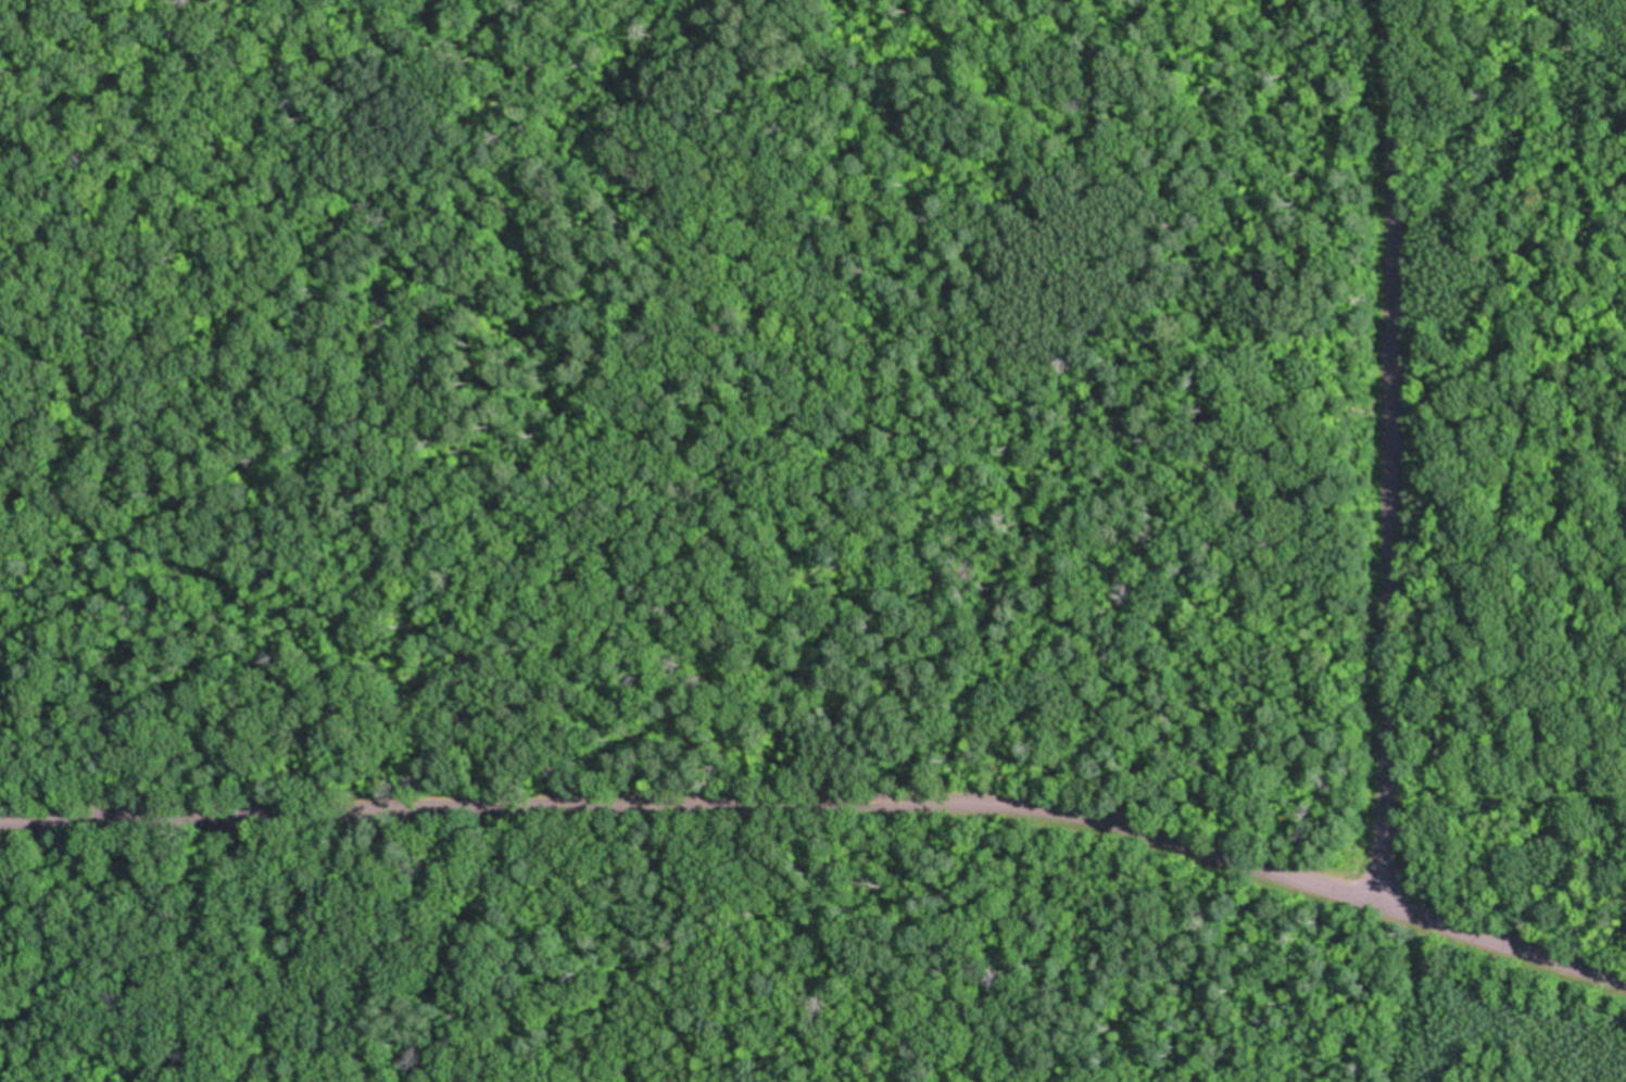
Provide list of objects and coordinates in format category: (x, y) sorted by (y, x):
road: (1377, 429)
road: (689, 815)
road: (1490, 920)

